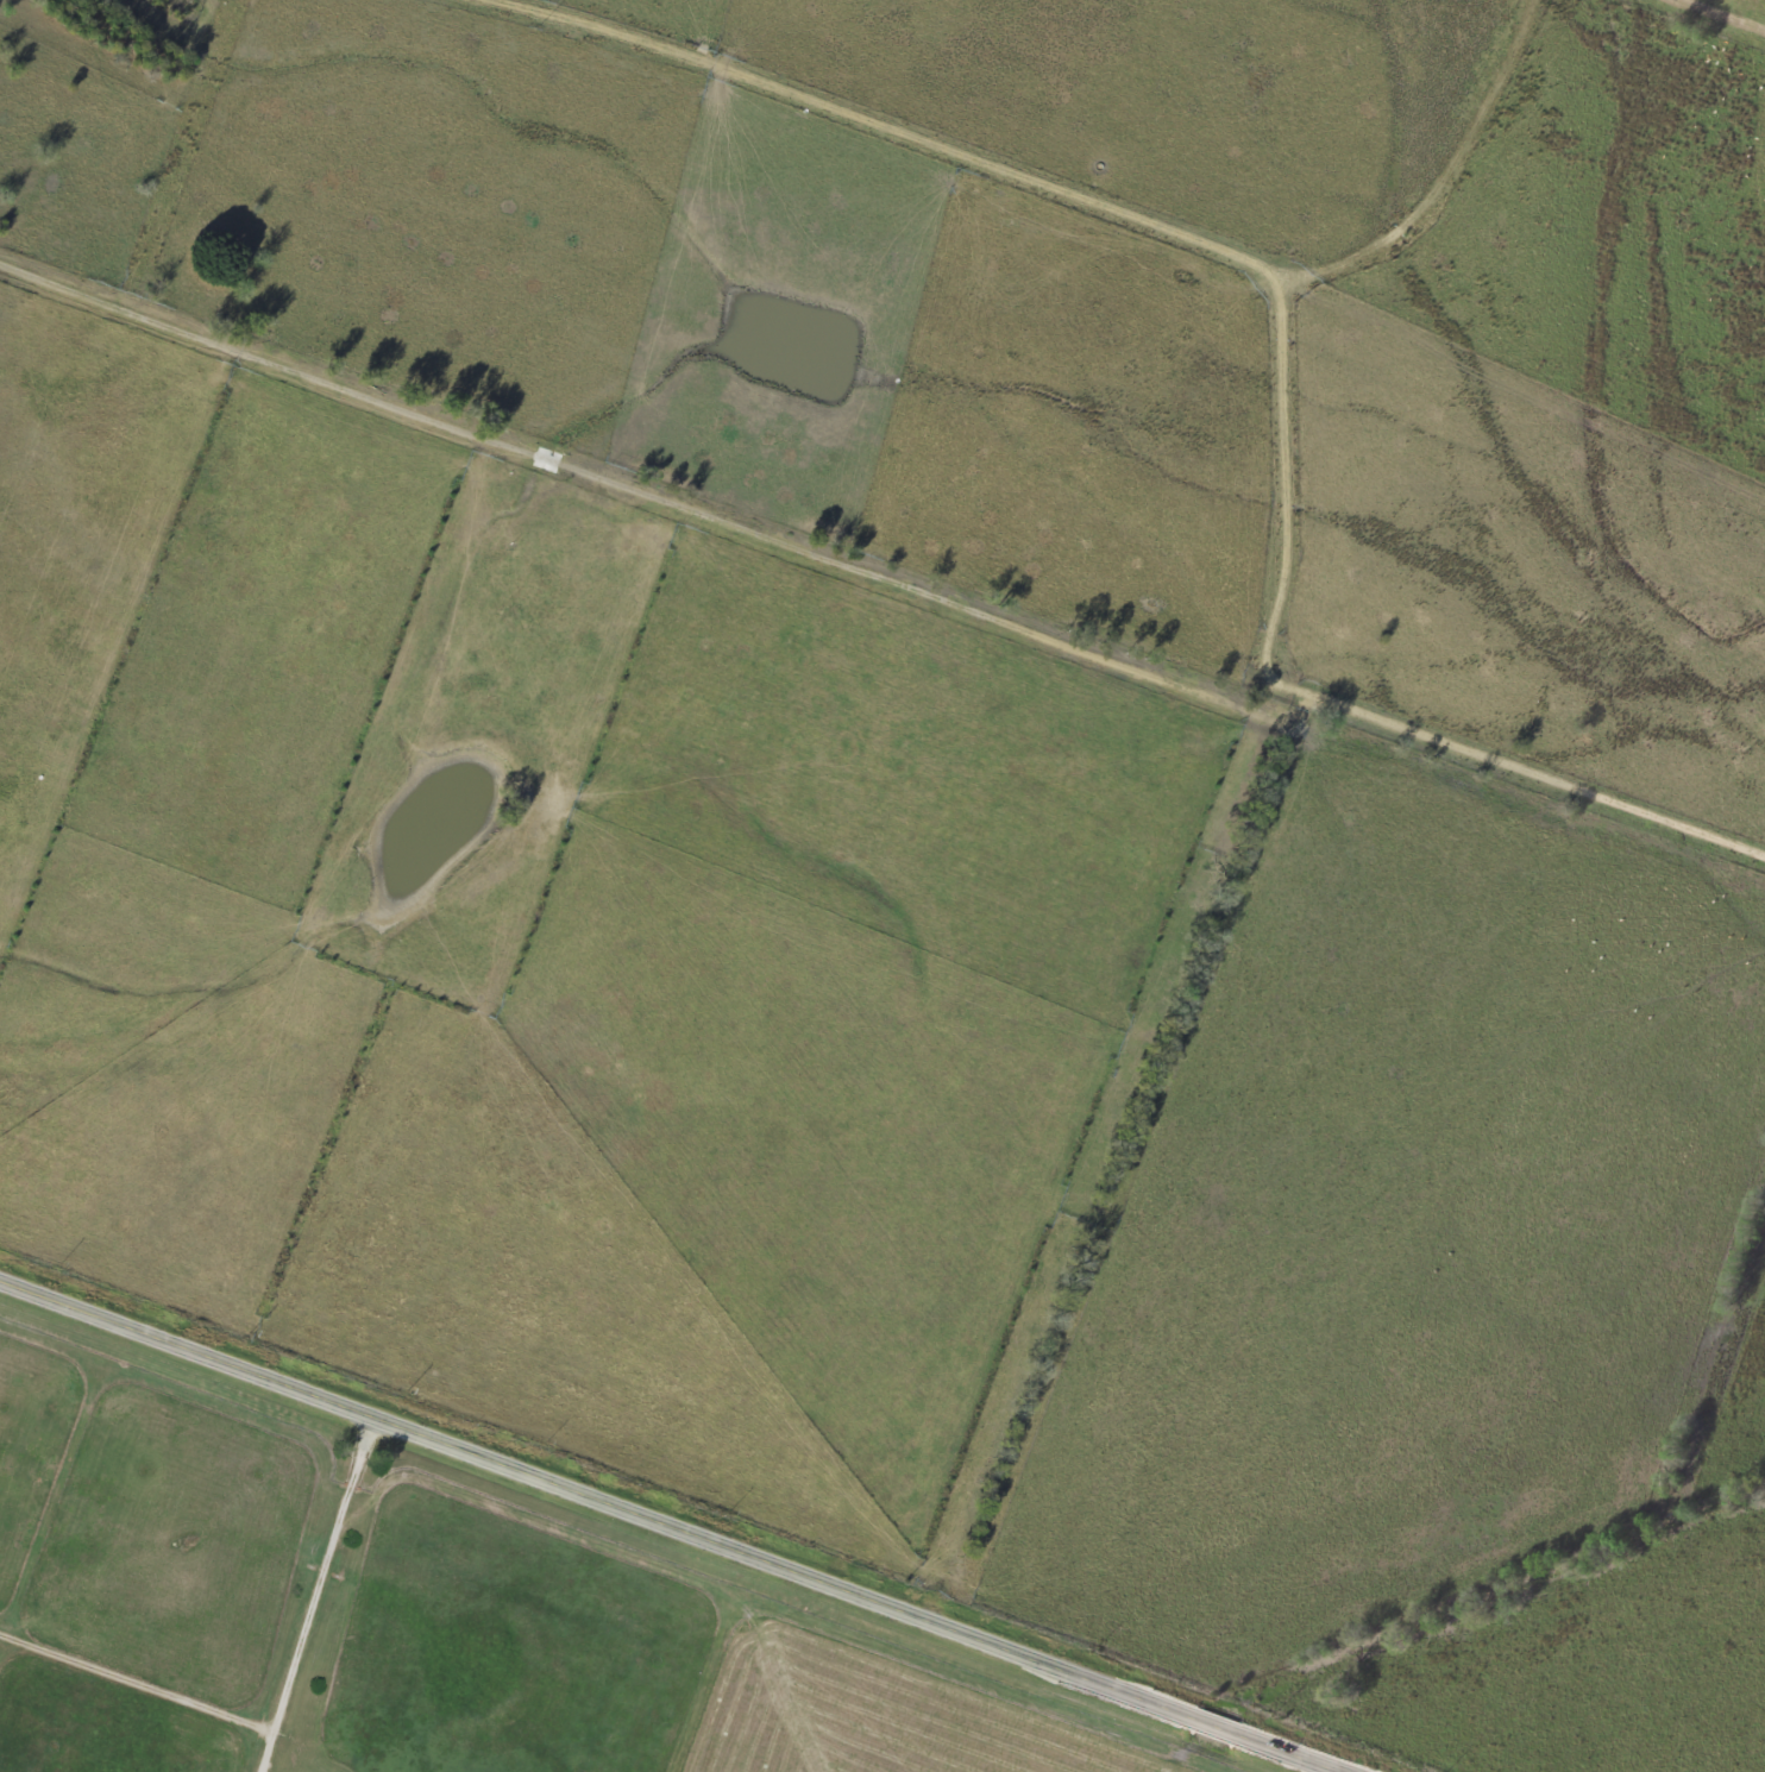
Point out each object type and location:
road: (670, 1527)
road: (332, 1573)
road: (140, 1680)
road: (277, 1748)

